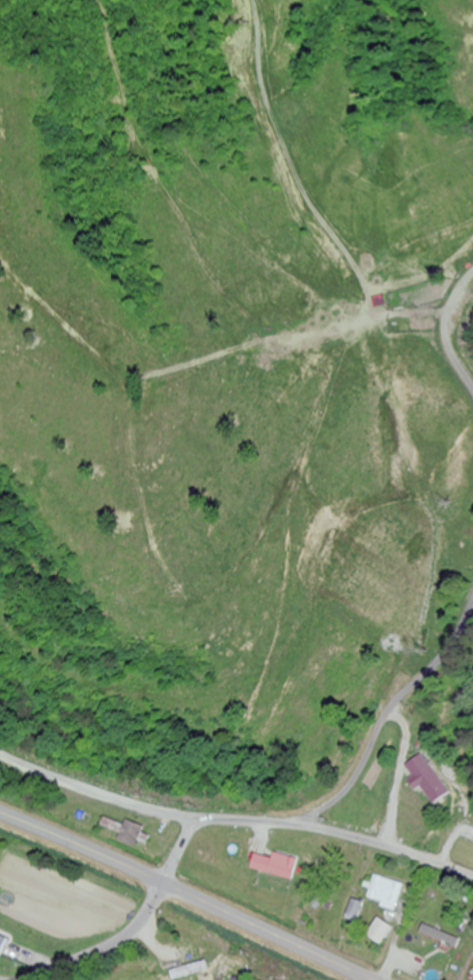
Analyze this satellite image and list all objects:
road: (96, 793)
building: (128, 833)
road: (337, 833)
road: (179, 850)
building: (274, 867)
road: (186, 893)
building: (385, 893)
building: (423, 908)
building: (355, 911)
road: (403, 919)
building: (380, 932)
building: (2, 944)
road: (105, 947)
building: (184, 965)

